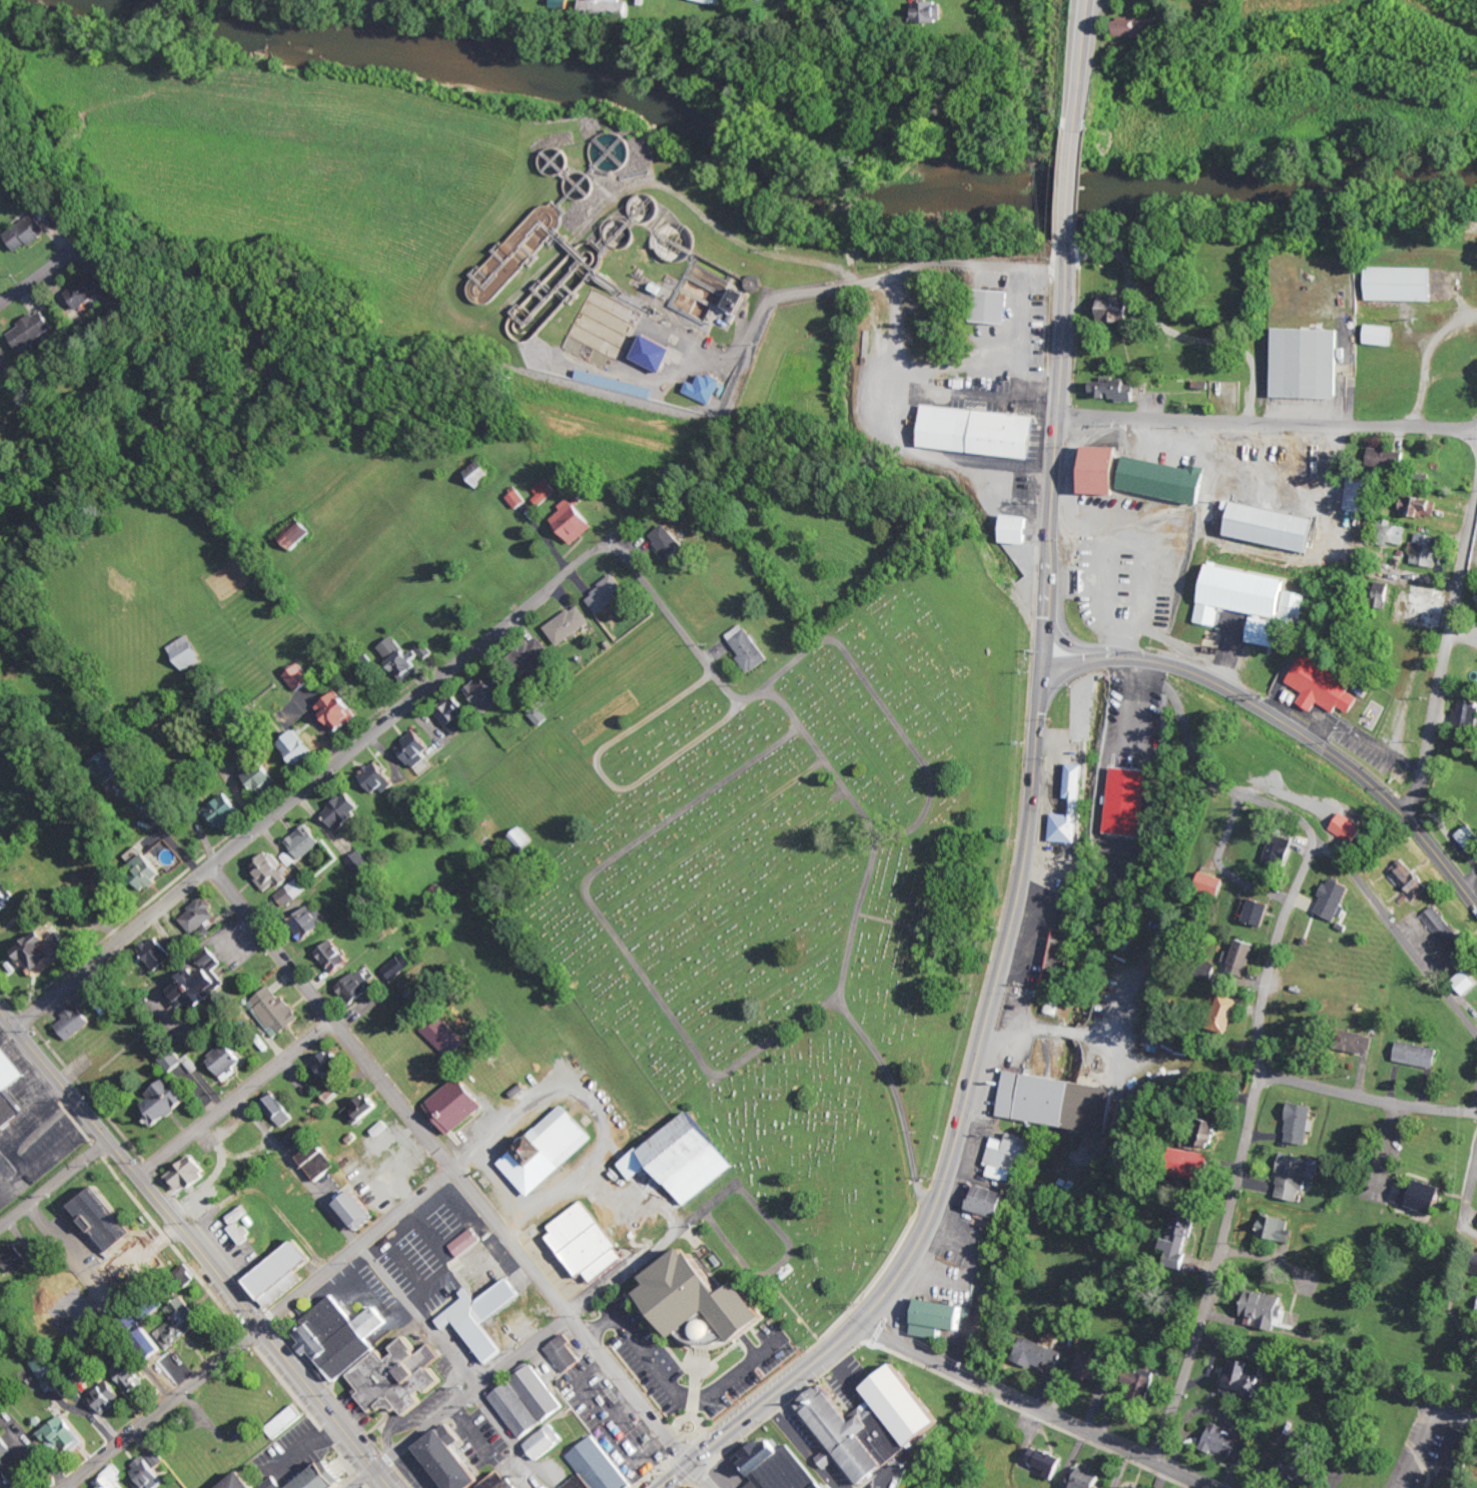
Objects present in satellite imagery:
building: (1162, 0)
building: (492, 1)
building: (718, 2)
building: (610, 10)
building: (933, 13)
building: (1133, 28)
road: (1079, 104)
building: (30, 232)
building: (0, 268)
road: (928, 274)
road: (36, 280)
building: (757, 283)
building: (1402, 284)
building: (92, 290)
building: (742, 300)
building: (1000, 306)
building: (1116, 309)
building: (33, 330)
building: (1382, 335)
building: (1309, 363)
building: (611, 383)
building: (703, 388)
building: (1114, 390)
road: (1267, 426)
building: (983, 431)
building: (1386, 457)
building: (481, 474)
building: (1145, 476)
building: (546, 493)
building: (1364, 494)
building: (519, 499)
building: (1424, 507)
building: (574, 521)
building: (1273, 526)
building: (1018, 530)
building: (297, 533)
building: (1393, 533)
building: (671, 543)
building: (1427, 549)
building: (608, 594)
building: (1256, 604)
building: (569, 625)
building: (749, 647)
building: (189, 653)
building: (535, 654)
road: (1444, 666)
building: (300, 678)
building: (1324, 687)
building: (487, 694)
road: (887, 708)
building: (341, 711)
building: (1467, 713)
building: (540, 716)
building: (457, 717)
road: (1283, 724)
building: (300, 748)
building: (418, 748)
building: (264, 778)
building: (378, 779)
road: (604, 780)
road: (309, 783)
building: (1127, 802)
road: (1329, 804)
building: (1081, 806)
building: (345, 810)
building: (225, 811)
road: (863, 825)
building: (1350, 829)
building: (522, 841)
building: (305, 842)
building: (1281, 851)
building: (362, 863)
building: (149, 870)
building: (269, 872)
building: (1408, 877)
building: (1211, 884)
building: (295, 891)
building: (5, 899)
building: (1337, 899)
park: (802, 901)
road: (1015, 911)
building: (1256, 912)
building: (201, 916)
building: (312, 922)
road: (612, 930)
road: (1398, 934)
building: (1447, 934)
building: (159, 954)
building: (1062, 955)
building: (337, 956)
building: (1243, 958)
building: (401, 967)
building: (1468, 982)
building: (198, 986)
building: (359, 987)
building: (105, 1005)
building: (277, 1011)
building: (1224, 1014)
road: (1258, 1020)
building: (74, 1022)
building: (448, 1039)
building: (1364, 1043)
building: (1420, 1055)
building: (228, 1061)
building: (173, 1062)
building: (331, 1068)
building: (9, 1090)
road: (235, 1099)
road: (1365, 1099)
building: (167, 1103)
building: (1057, 1103)
building: (458, 1105)
building: (363, 1109)
road: (1476, 1109)
building: (281, 1111)
building: (1301, 1124)
building: (1209, 1134)
building: (303, 1136)
building: (549, 1151)
building: (1014, 1158)
building: (686, 1159)
building: (321, 1162)
road: (449, 1164)
building: (1199, 1166)
building: (190, 1173)
building: (1297, 1176)
road: (54, 1187)
building: (1423, 1198)
building: (987, 1204)
building: (361, 1210)
building: (108, 1220)
building: (242, 1226)
building: (1277, 1229)
building: (1180, 1235)
building: (468, 1243)
building: (588, 1244)
road: (356, 1248)
road: (195, 1249)
building: (14, 1257)
building: (285, 1270)
building: (1, 1283)
road: (395, 1289)
building: (709, 1303)
building: (1268, 1310)
building: (941, 1318)
building: (484, 1320)
building: (181, 1324)
road: (549, 1333)
building: (342, 1338)
building: (1264, 1353)
building: (566, 1355)
building: (1041, 1355)
building: (1092, 1365)
building: (52, 1374)
building: (132, 1376)
building: (1245, 1378)
building: (401, 1379)
building: (110, 1397)
building: (530, 1403)
road: (1029, 1405)
road: (163, 1409)
building: (287, 1423)
building: (842, 1436)
building: (548, 1441)
building: (1228, 1443)
building: (831, 1457)
building: (1453, 1458)
building: (455, 1460)
building: (1046, 1460)
building: (8, 1466)
building: (774, 1466)
building: (1297, 1466)
building: (598, 1467)
building: (151, 1470)
road: (697, 1475)
building: (326, 1477)
building: (1084, 1477)
building: (112, 1478)
road: (364, 1479)
building: (248, 1481)
building: (502, 1481)
building: (280, 1485)
road: (65, 1487)
building: (553, 1487)
building: (1129, 1487)

